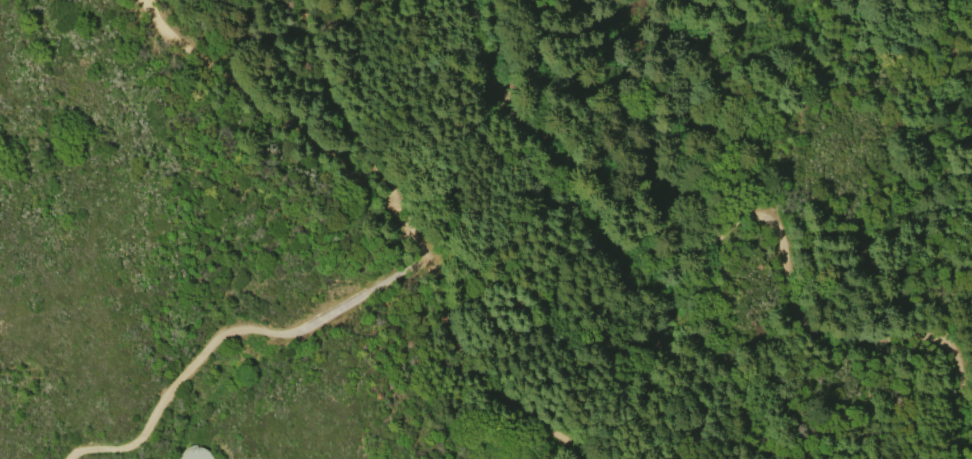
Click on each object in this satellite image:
road: (491, 30)
road: (336, 84)
road: (396, 201)
road: (678, 262)
road: (232, 332)
road: (960, 366)
building: (196, 453)

